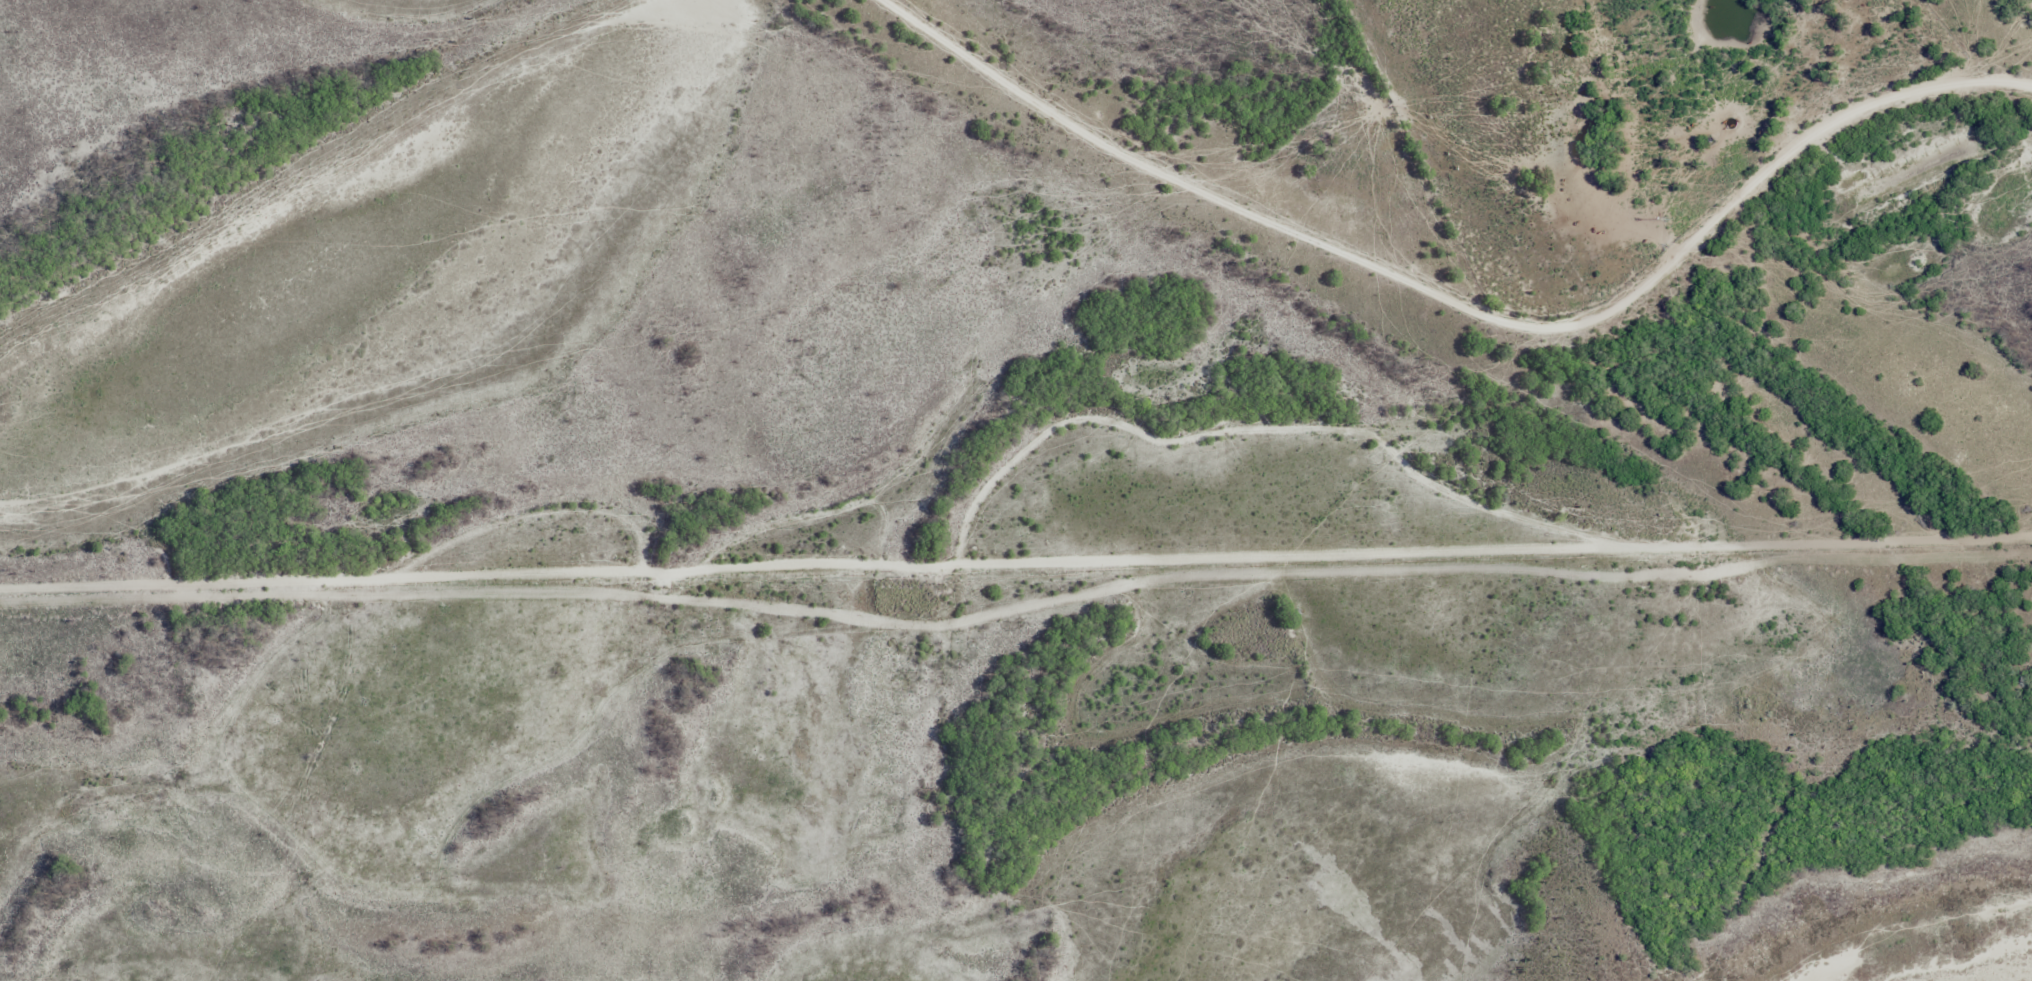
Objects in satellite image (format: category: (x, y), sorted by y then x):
road: (1479, 298)

